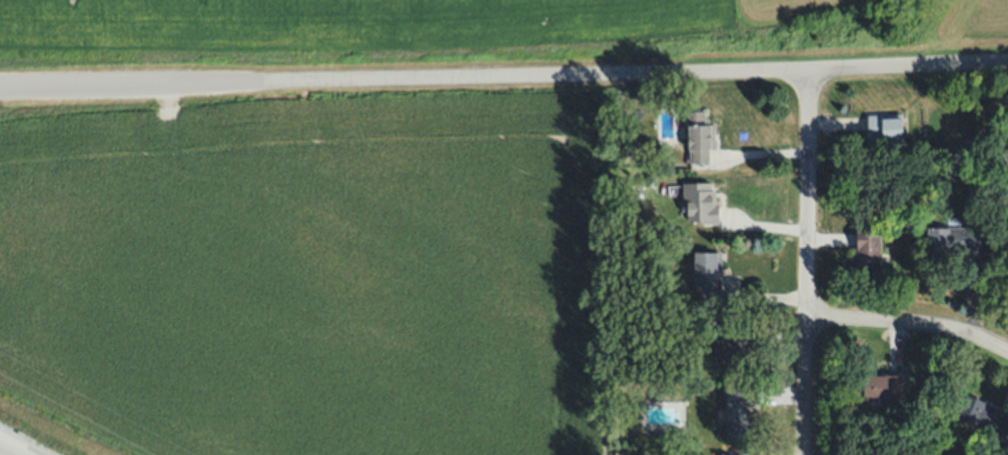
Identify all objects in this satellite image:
road: (504, 76)
building: (887, 126)
building: (700, 138)
building: (634, 196)
building: (700, 203)
building: (954, 240)
building: (868, 249)
road: (806, 261)
building: (709, 274)
road: (909, 322)
building: (738, 342)
building: (882, 386)
building: (739, 412)
building: (984, 416)

